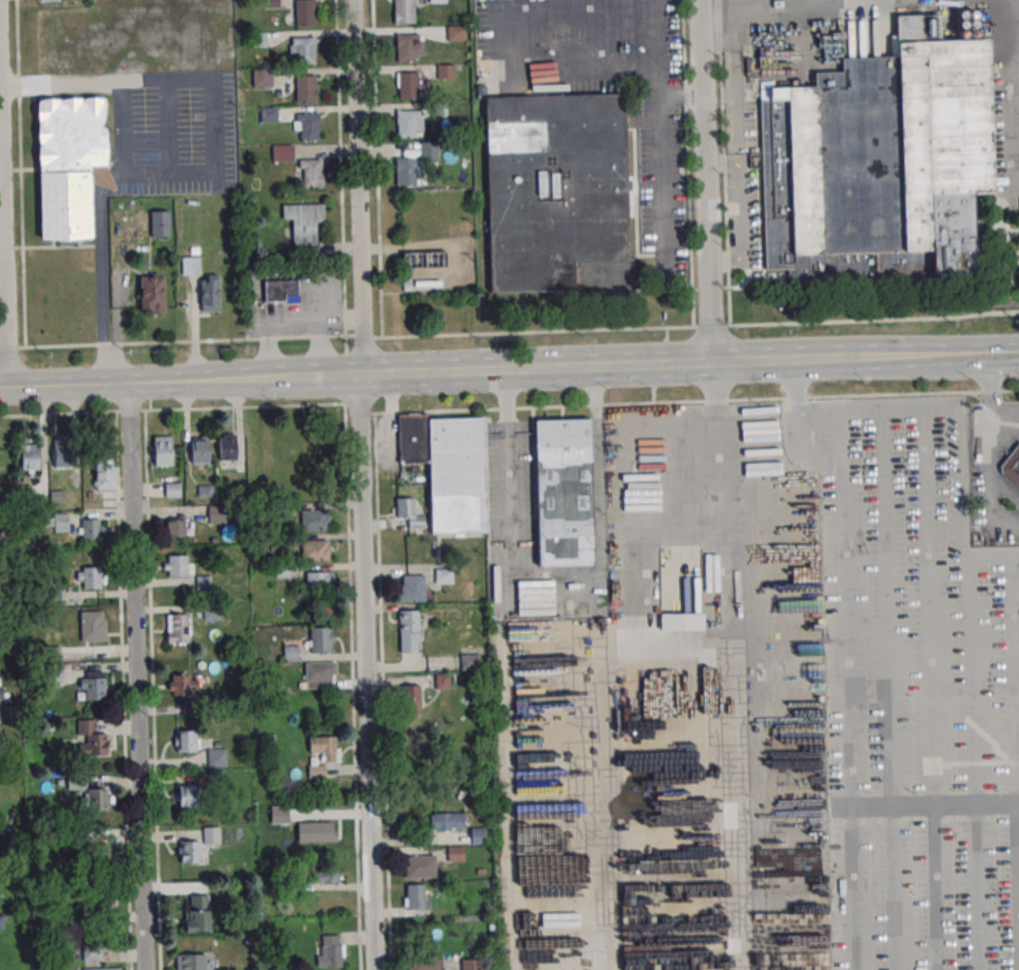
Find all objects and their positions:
building: (437, 2)
building: (270, 4)
road: (832, 9)
building: (404, 12)
building: (305, 13)
road: (1012, 24)
building: (455, 34)
building: (257, 39)
building: (407, 48)
building: (304, 51)
building: (445, 73)
building: (263, 77)
road: (1017, 78)
road: (737, 82)
road: (110, 84)
road: (538, 84)
building: (408, 87)
building: (305, 90)
road: (672, 95)
road: (692, 95)
road: (1016, 111)
building: (269, 116)
building: (408, 124)
road: (214, 127)
building: (308, 128)
road: (659, 132)
parking lot: (171, 133)
building: (282, 154)
building: (71, 166)
road: (340, 167)
building: (878, 167)
road: (376, 169)
building: (405, 172)
road: (20, 174)
building: (311, 174)
road: (105, 180)
road: (701, 183)
building: (556, 194)
road: (739, 210)
building: (159, 223)
building: (304, 229)
power substation: (438, 242)
road: (4, 252)
building: (190, 265)
road: (105, 284)
building: (427, 285)
building: (280, 291)
building: (208, 293)
building: (151, 294)
road: (509, 333)
road: (994, 358)
road: (915, 360)
road: (578, 369)
road: (148, 382)
road: (988, 393)
road: (900, 407)
road: (418, 412)
road: (1005, 429)
road: (809, 444)
building: (227, 448)
building: (162, 450)
building: (199, 450)
building: (62, 453)
building: (29, 454)
building: (1011, 465)
building: (449, 468)
road: (991, 474)
building: (104, 475)
road: (964, 481)
road: (362, 484)
building: (172, 491)
building: (563, 493)
building: (411, 513)
building: (216, 515)
road: (347, 515)
building: (314, 520)
building: (57, 522)
road: (1005, 522)
building: (174, 527)
building: (90, 530)
building: (314, 550)
road: (992, 556)
road: (842, 562)
building: (178, 566)
building: (282, 571)
building: (91, 577)
building: (443, 577)
building: (318, 581)
building: (203, 583)
building: (411, 589)
road: (556, 592)
building: (210, 610)
building: (681, 622)
building: (92, 627)
building: (176, 628)
building: (408, 632)
building: (321, 640)
building: (291, 654)
building: (470, 662)
building: (318, 674)
road: (135, 676)
building: (443, 681)
building: (181, 686)
building: (95, 690)
building: (410, 699)
building: (90, 739)
building: (186, 742)
building: (325, 748)
building: (216, 758)
building: (216, 779)
building: (188, 797)
building: (96, 800)
road: (851, 804)
building: (279, 815)
building: (449, 821)
building: (316, 832)
building: (210, 835)
building: (478, 836)
building: (190, 853)
building: (455, 854)
building: (99, 855)
building: (420, 867)
building: (327, 873)
building: (415, 897)
building: (100, 903)
building: (197, 913)
building: (329, 952)
building: (191, 962)
building: (426, 963)
building: (470, 964)
building: (100, 969)

